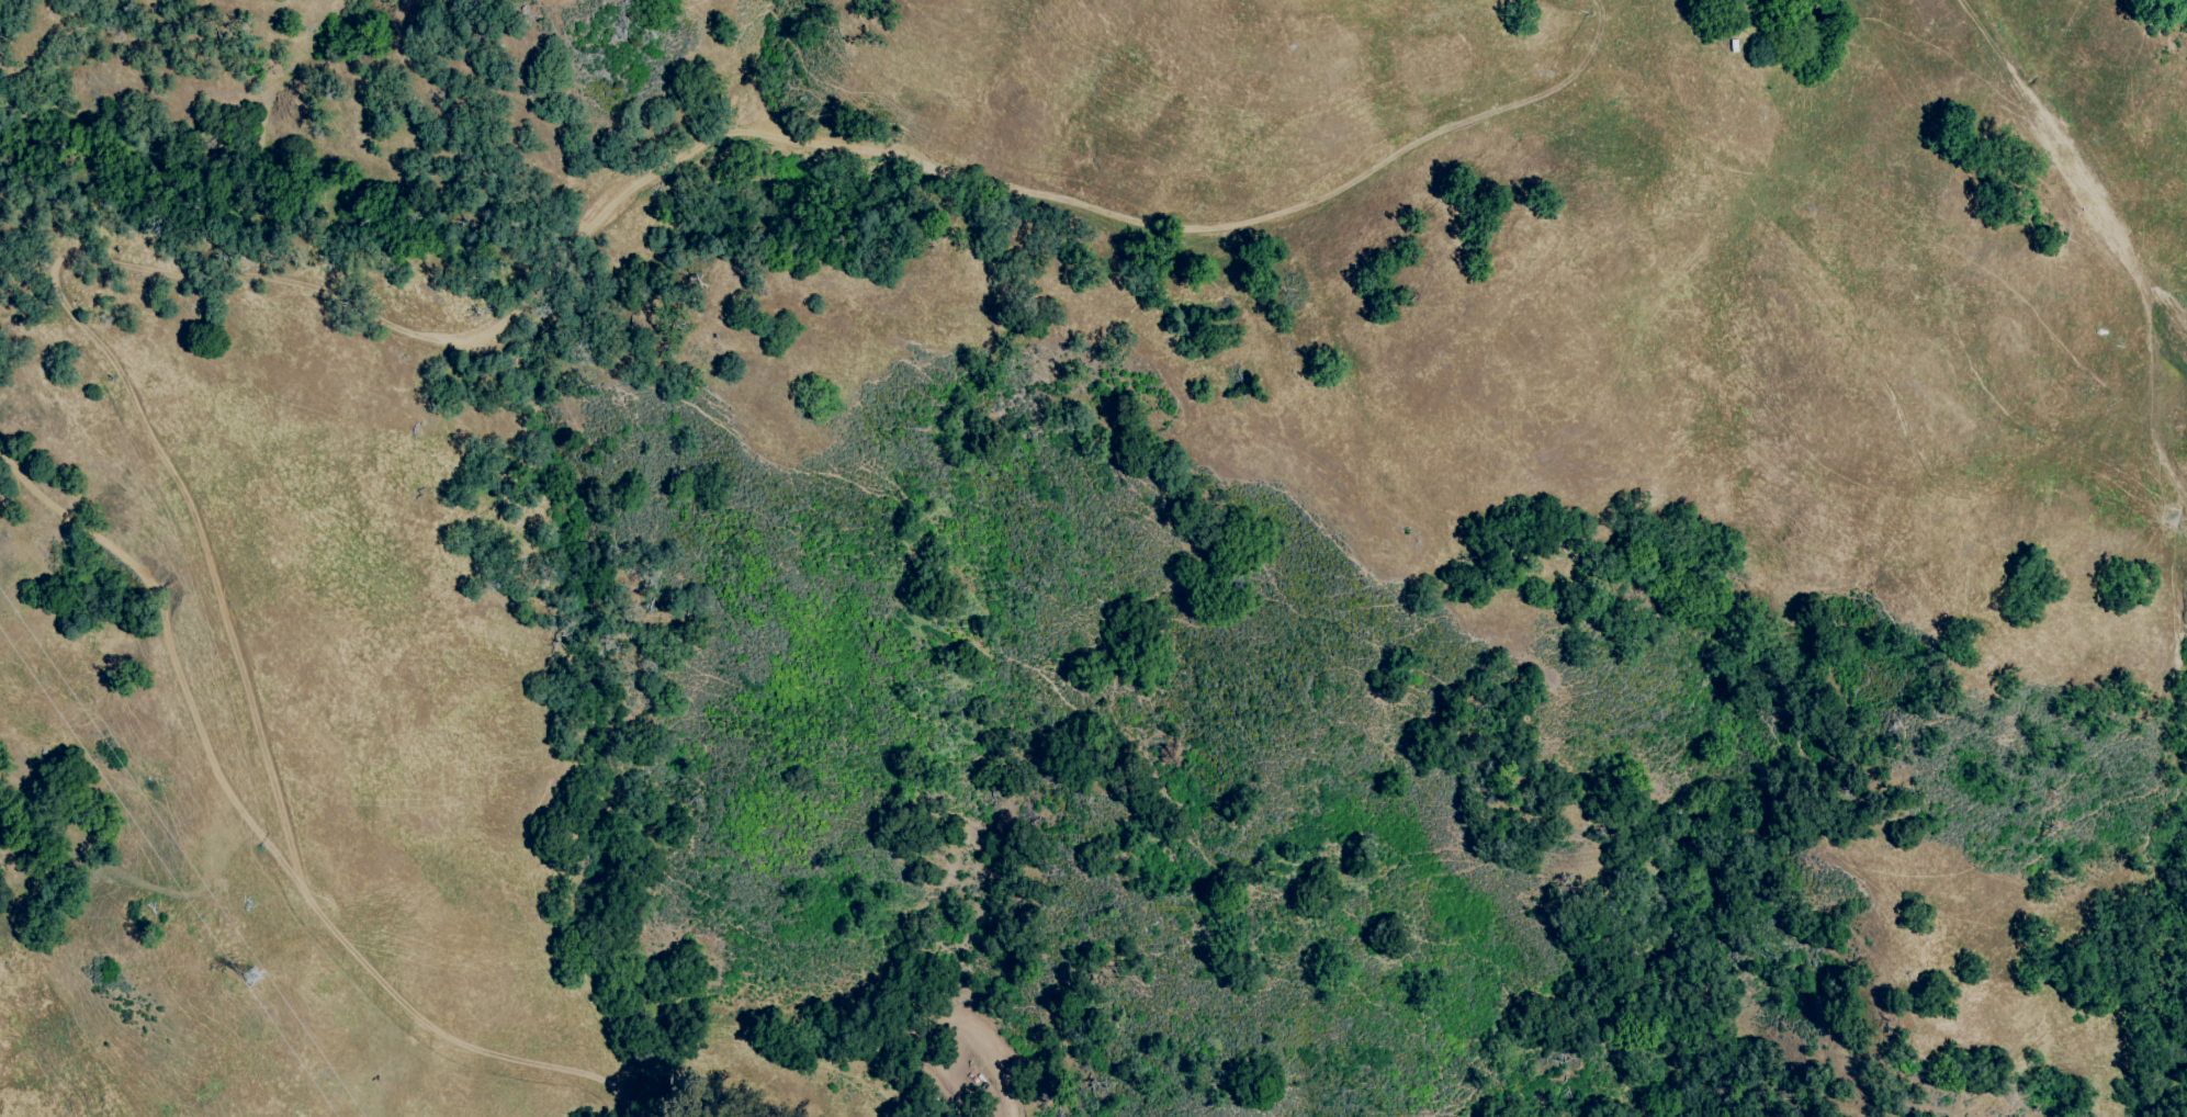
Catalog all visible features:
power tower: (261, 980)

